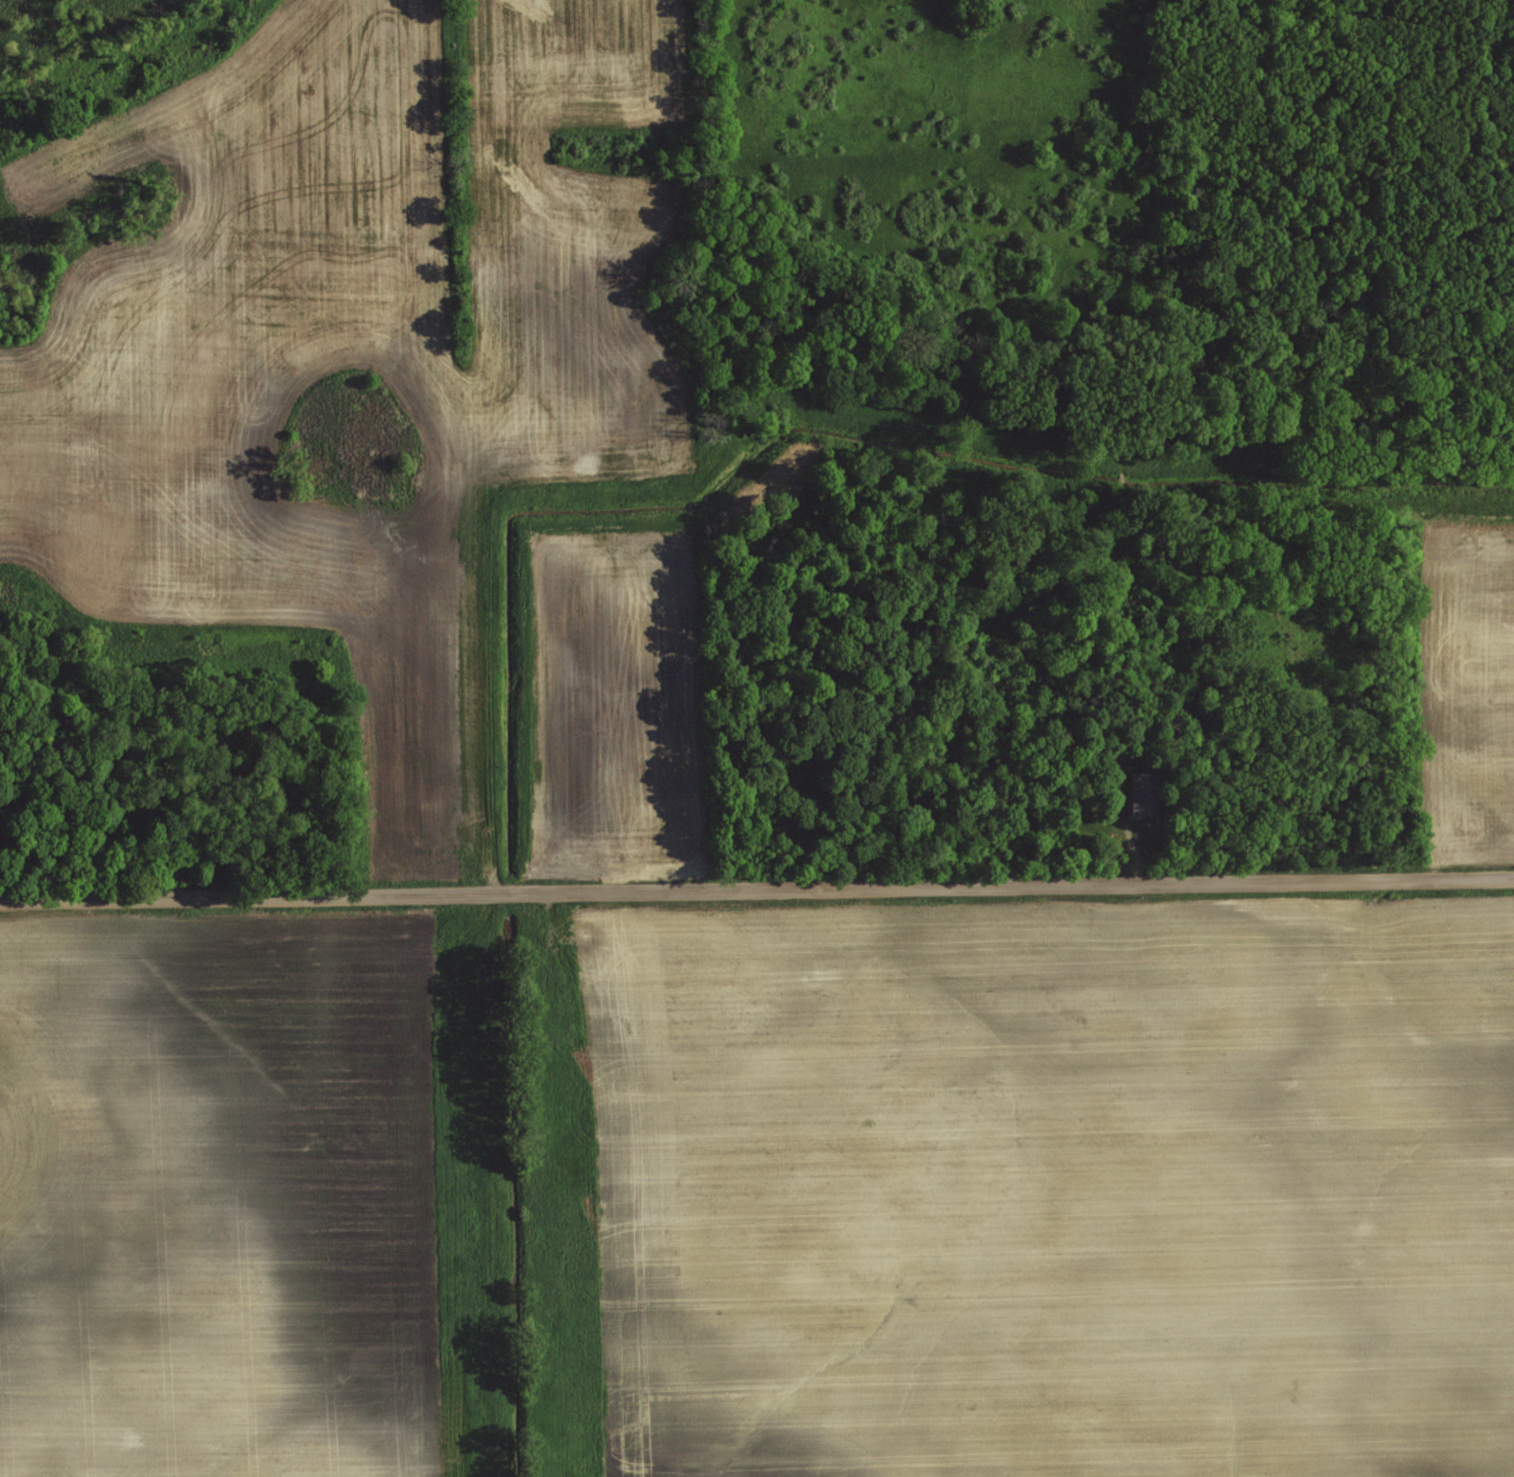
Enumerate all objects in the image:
building: (1142, 792)
road: (757, 891)

